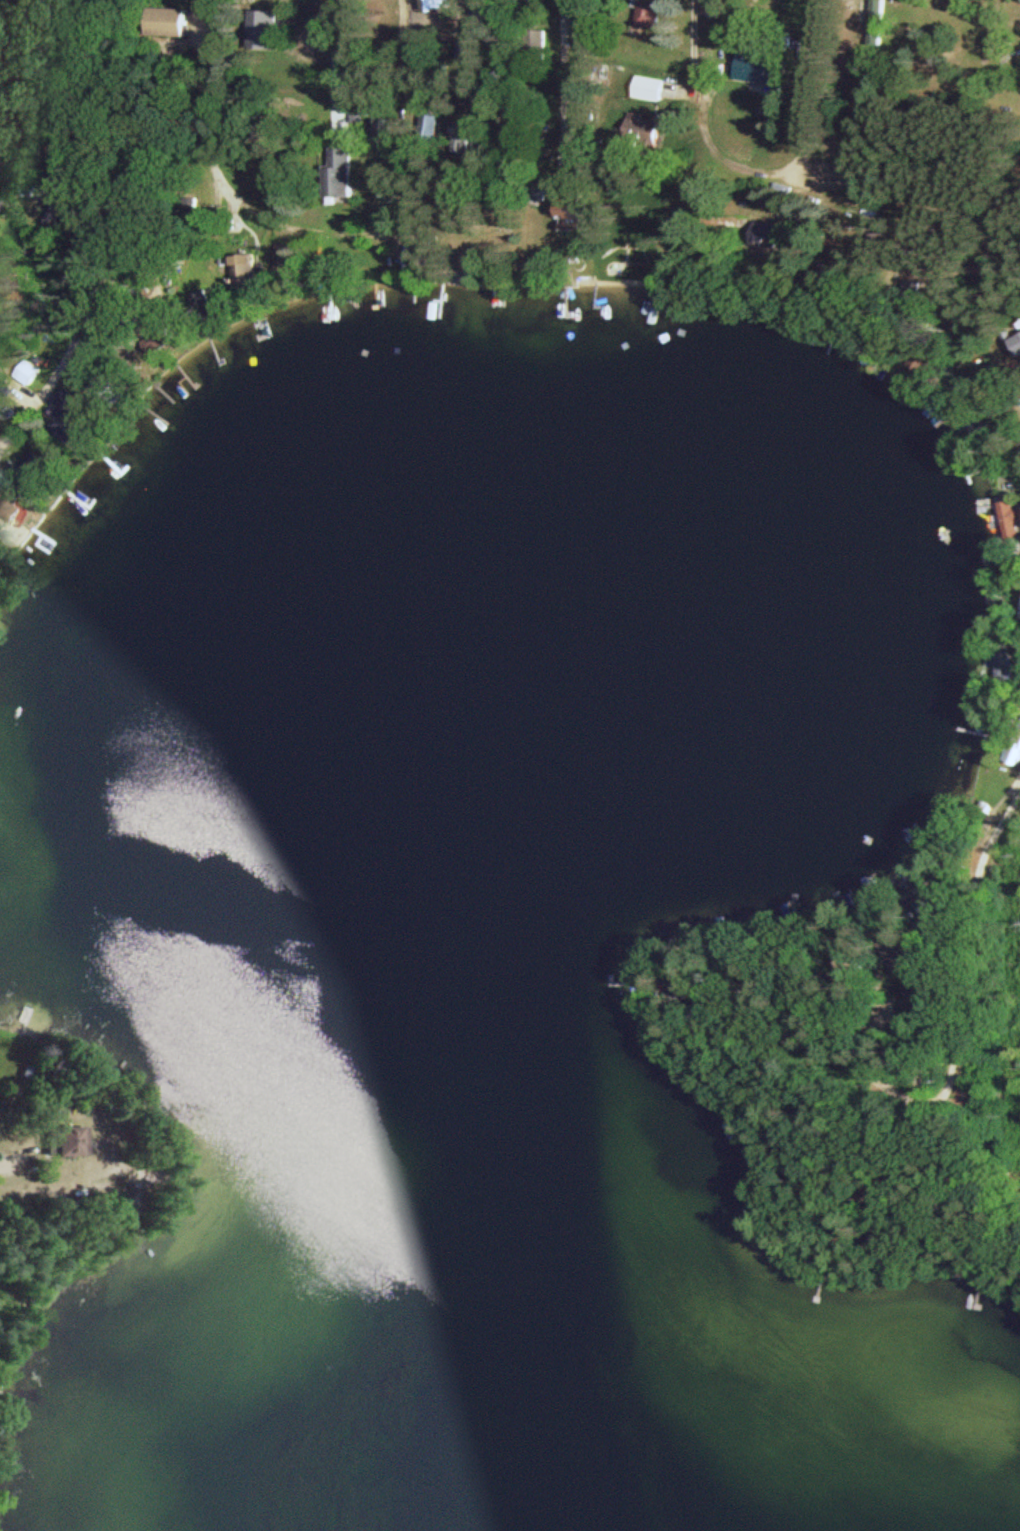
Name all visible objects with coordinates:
building: (652, 12)
building: (172, 19)
building: (879, 21)
building: (476, 40)
building: (758, 67)
building: (432, 125)
building: (394, 128)
building: (468, 128)
building: (66, 150)
building: (346, 170)
building: (1018, 340)
building: (111, 388)
building: (1010, 514)
building: (0, 544)
building: (1016, 750)
road: (968, 946)
building: (70, 1140)

